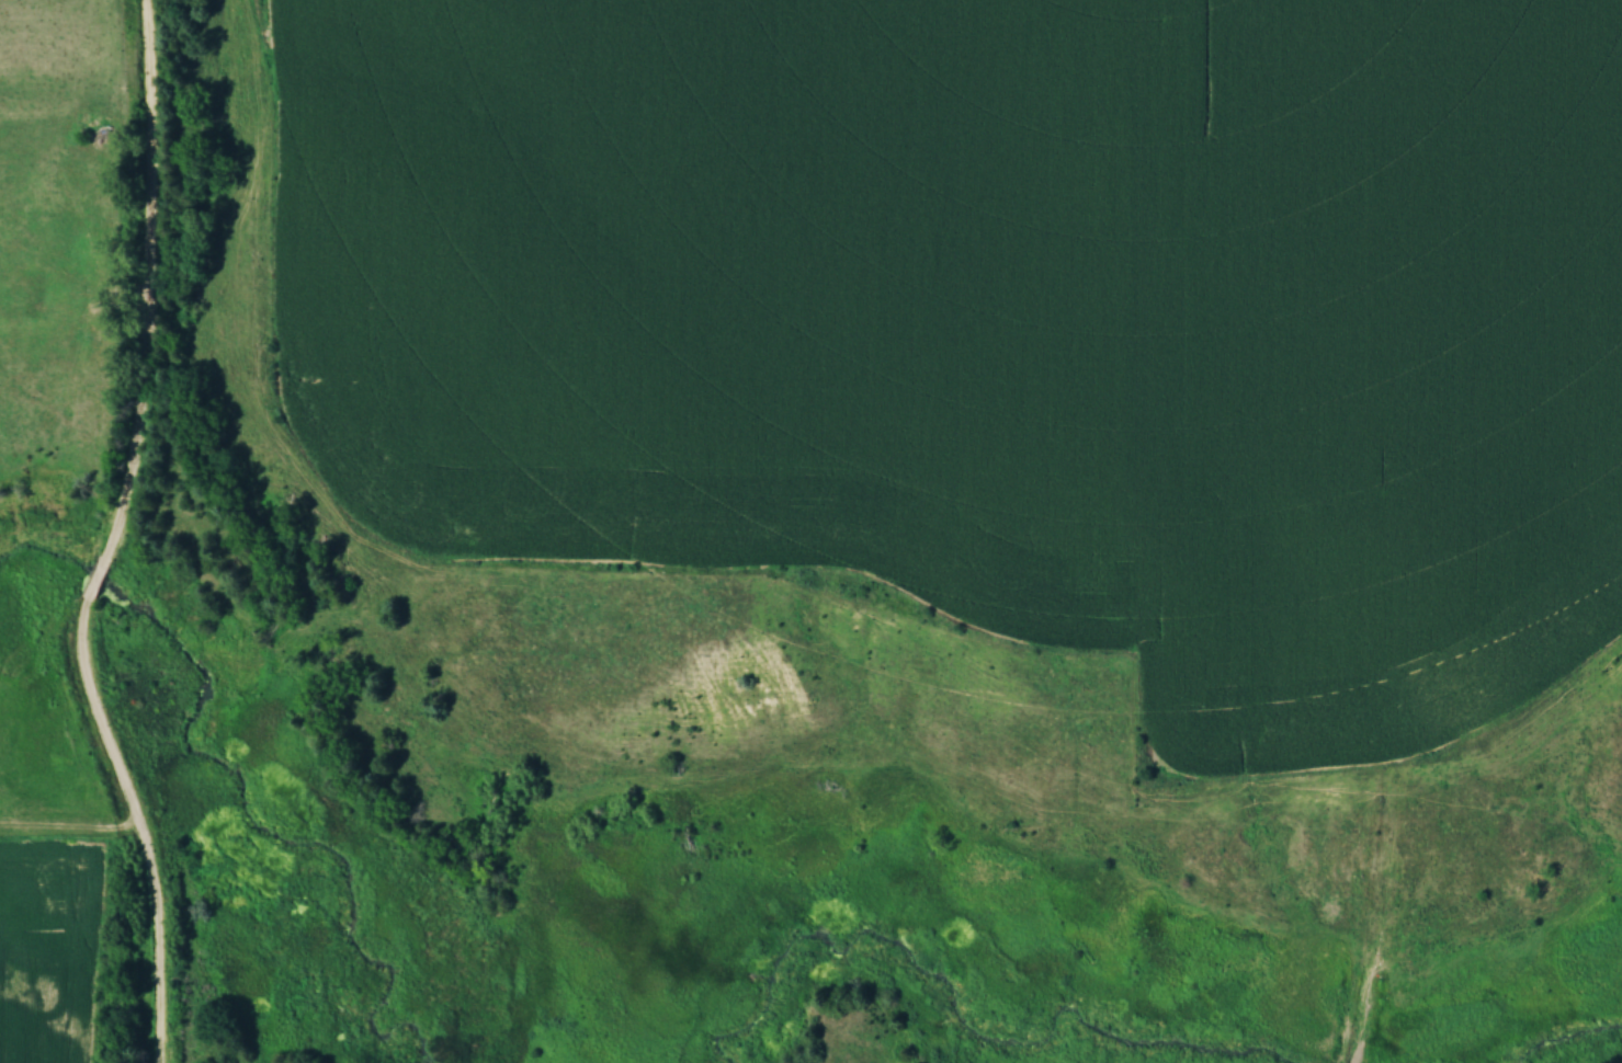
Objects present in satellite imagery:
road: (151, 262)
road: (103, 560)
road: (139, 825)

